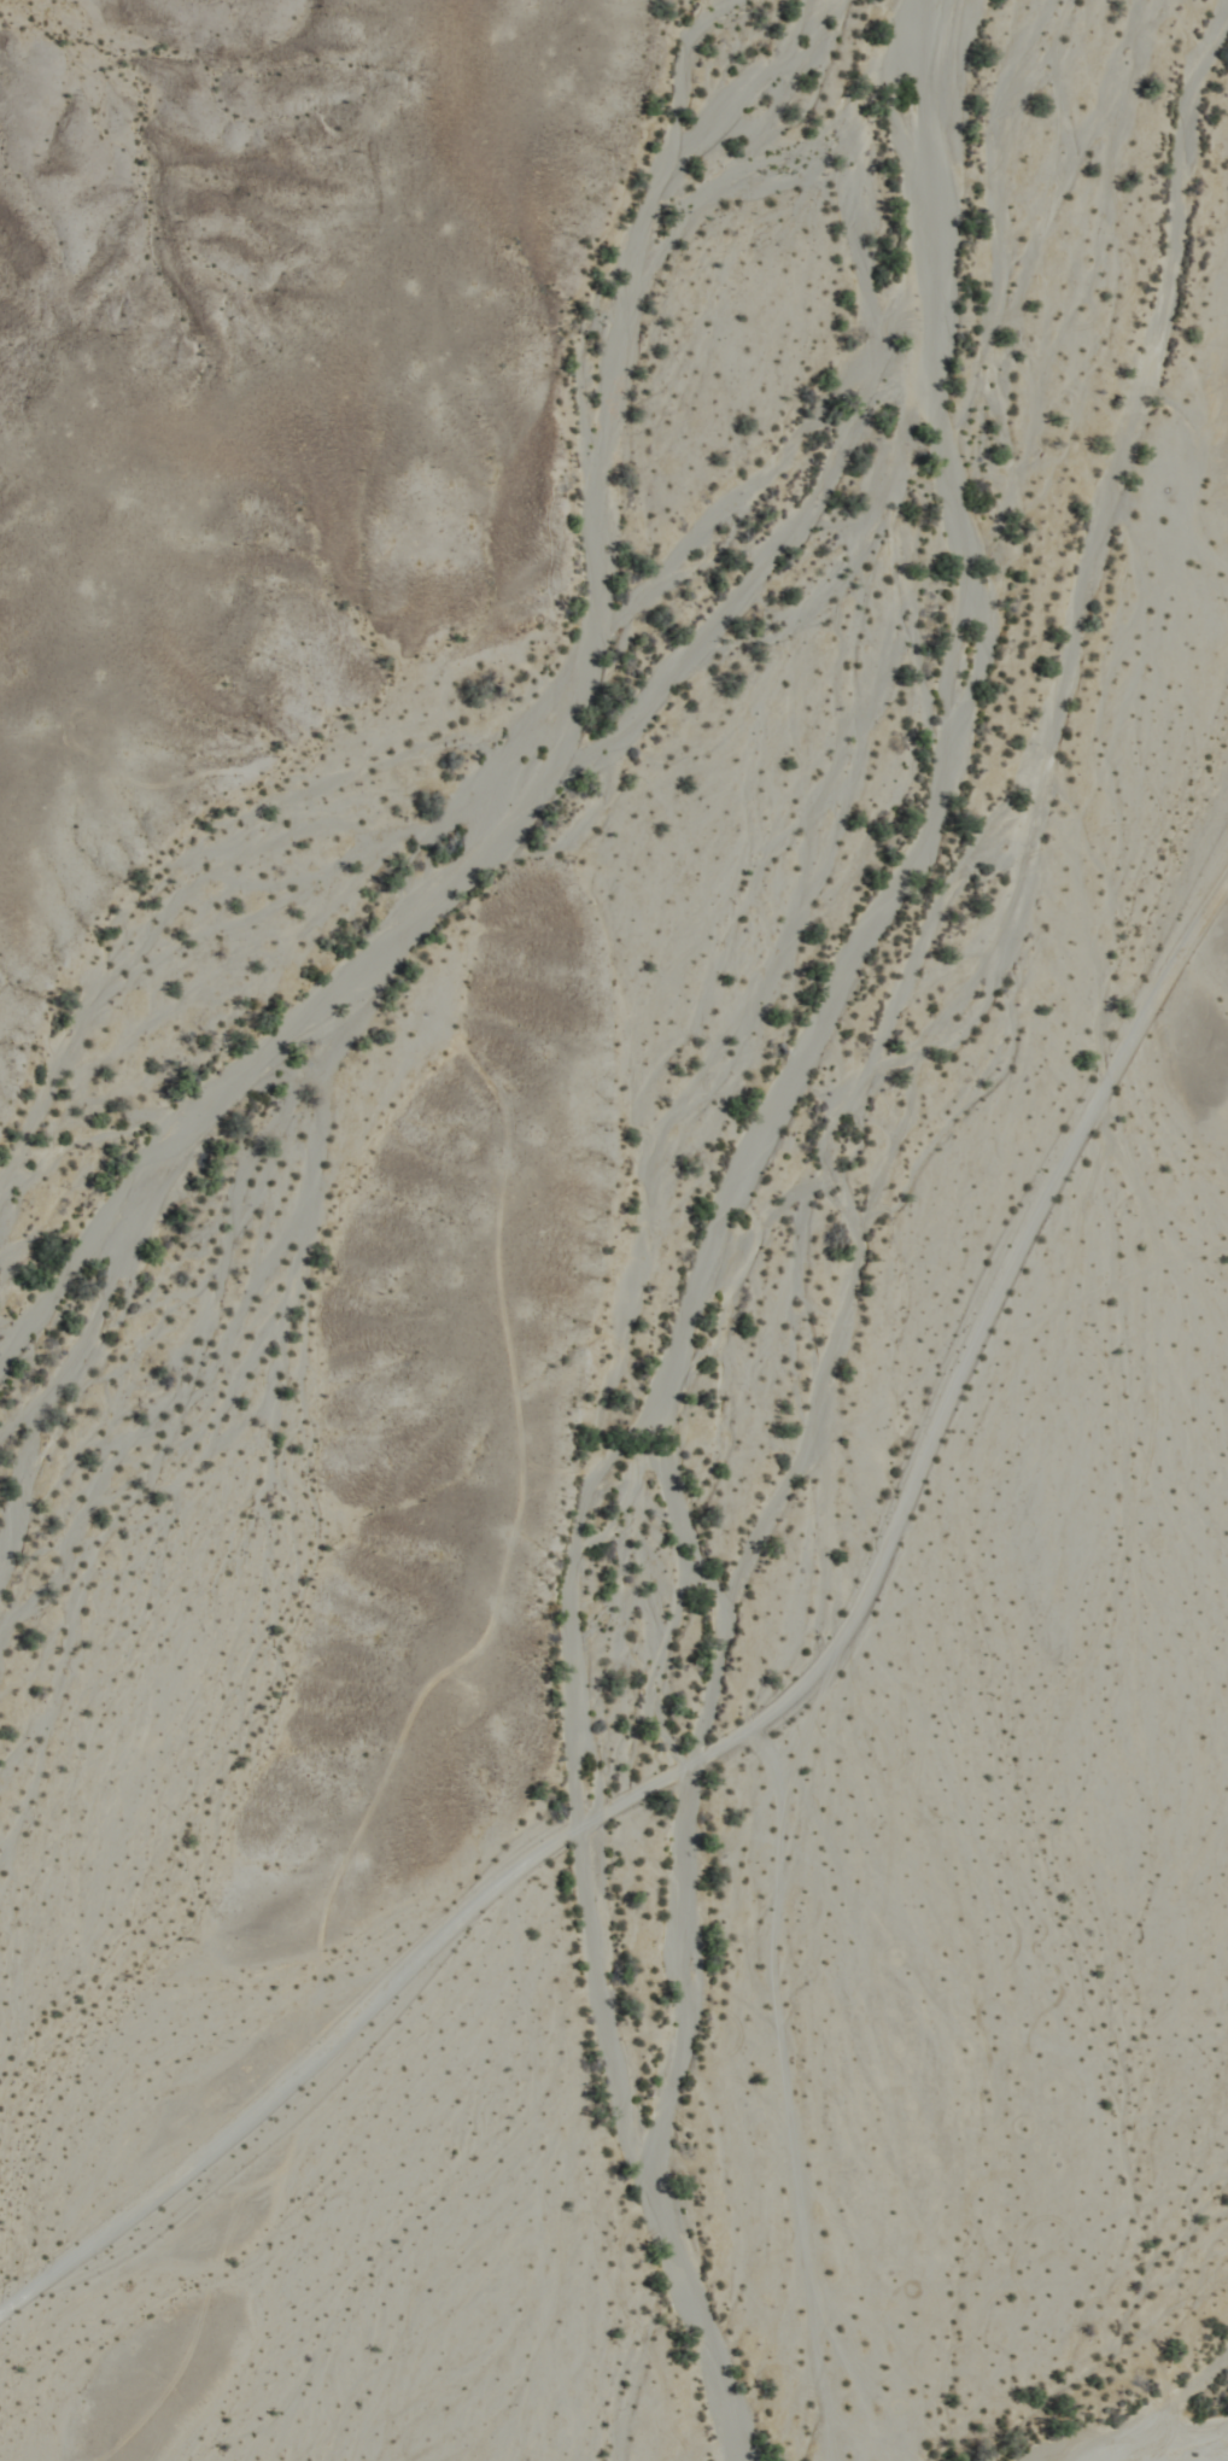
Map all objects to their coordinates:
road: (793, 1717)

